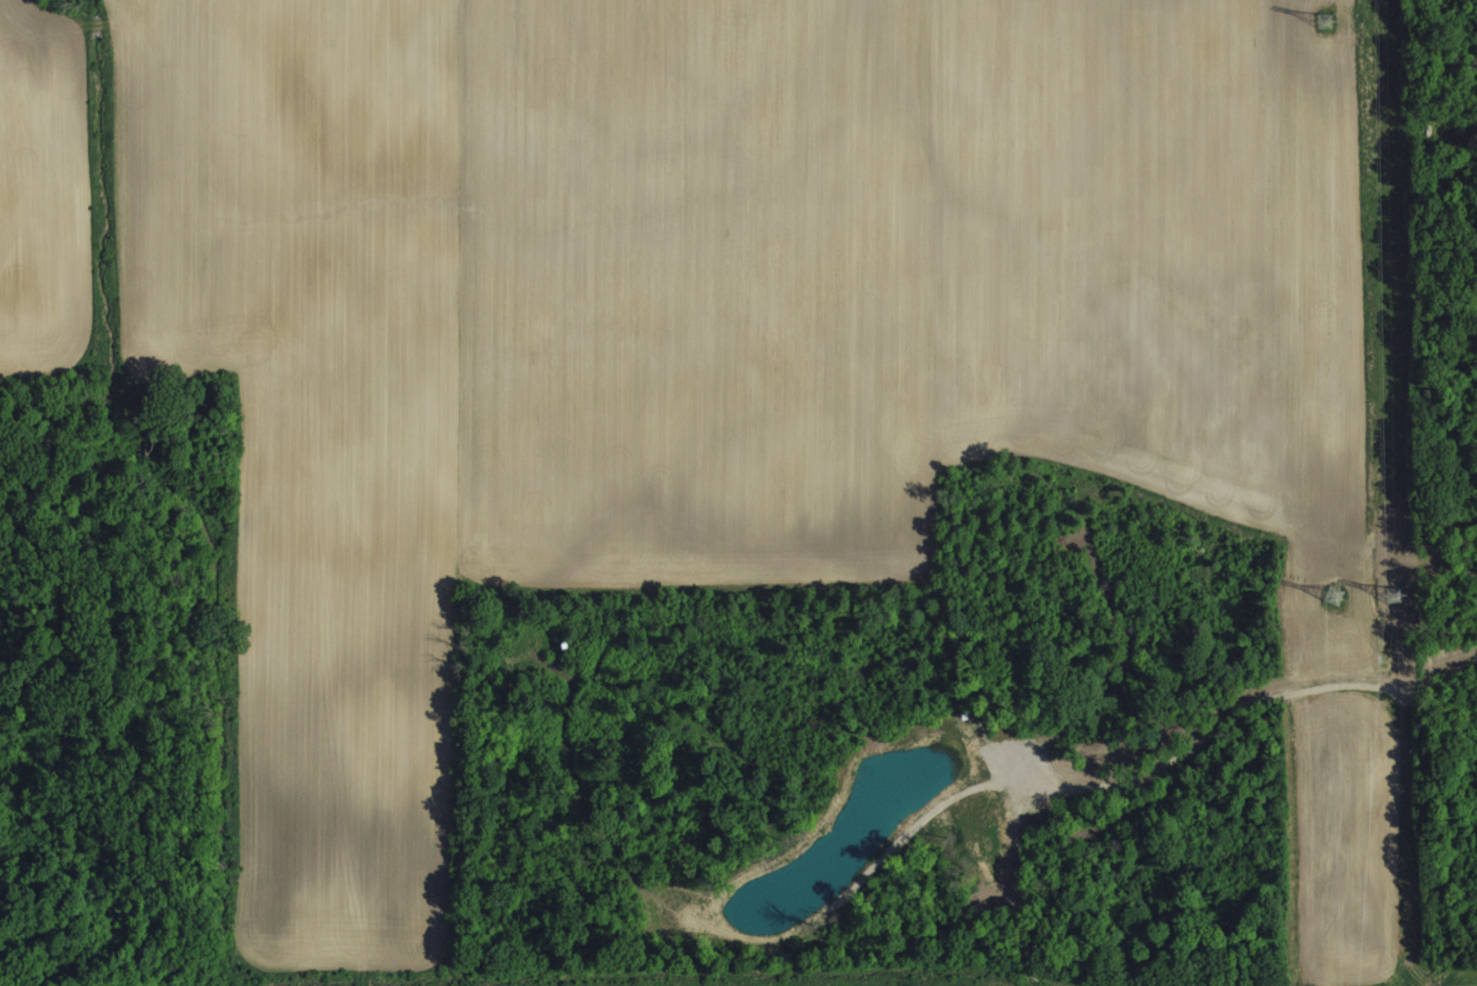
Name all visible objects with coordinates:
power tower: (1326, 20)
power tower: (1395, 591)
power tower: (1332, 594)

